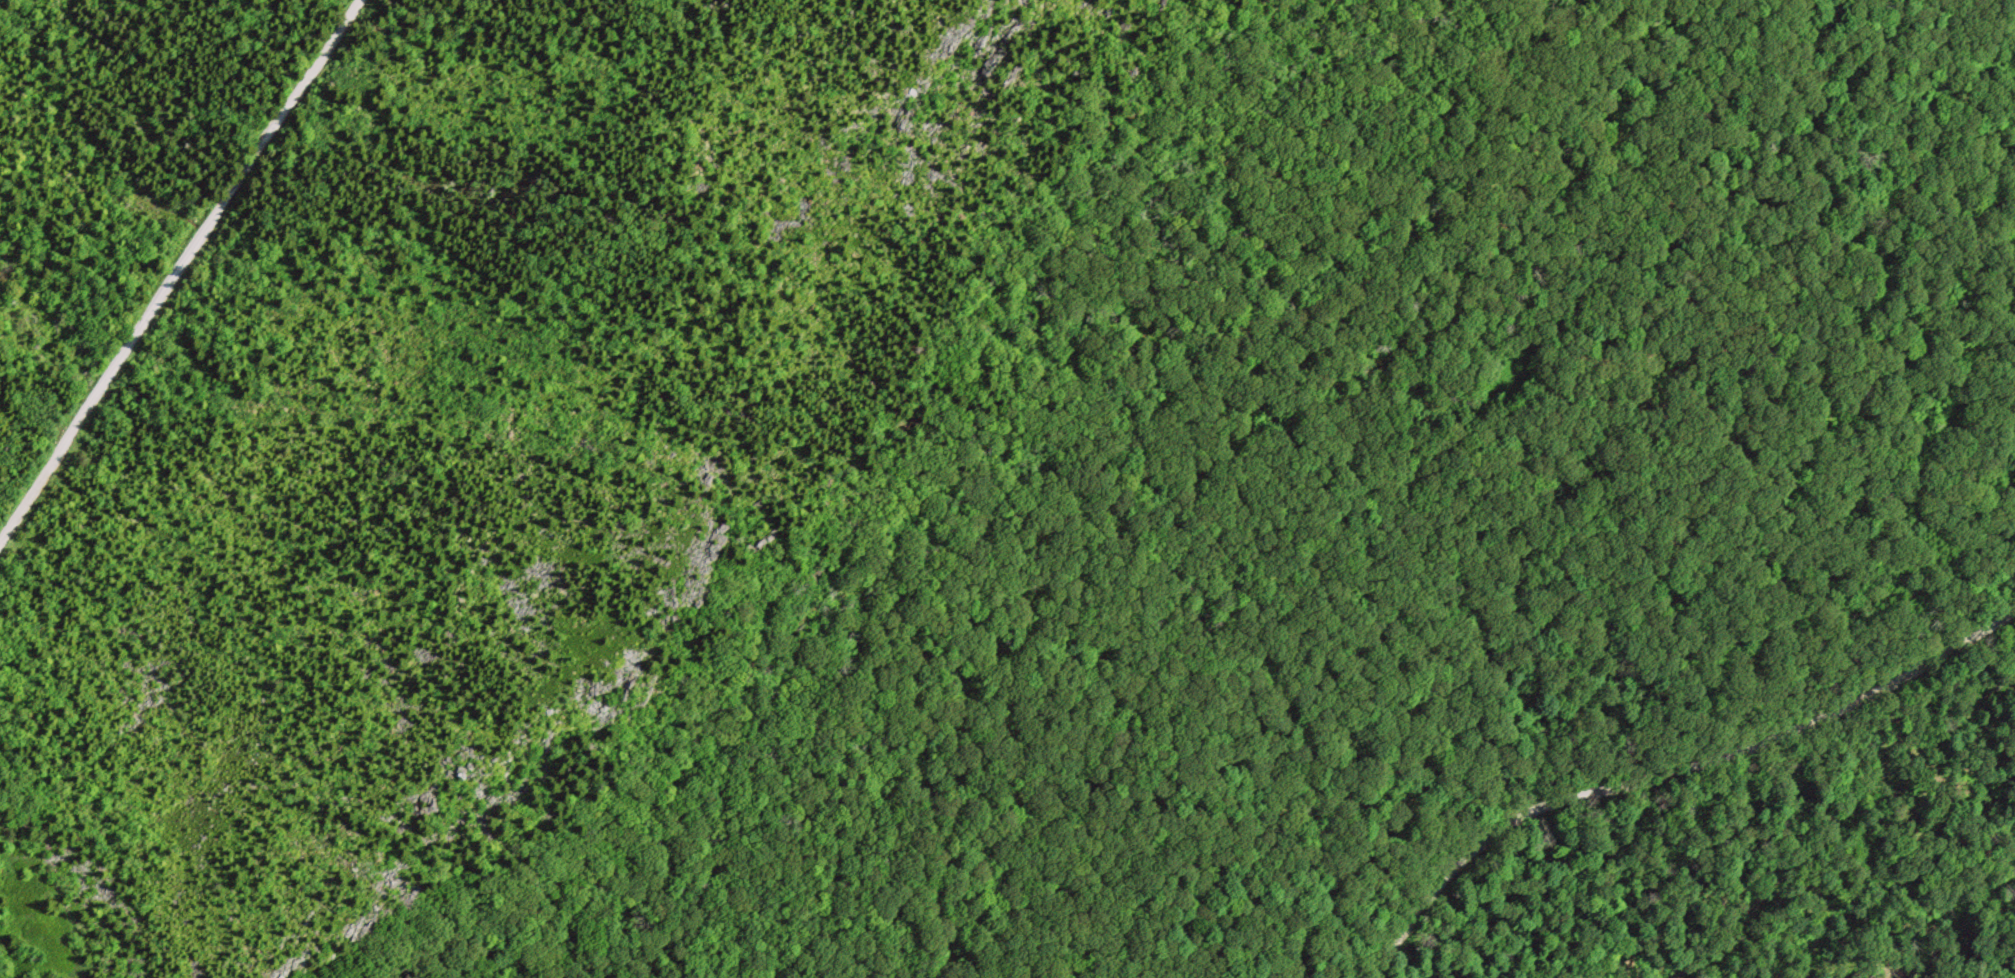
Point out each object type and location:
road: (179, 272)
road: (1671, 772)

